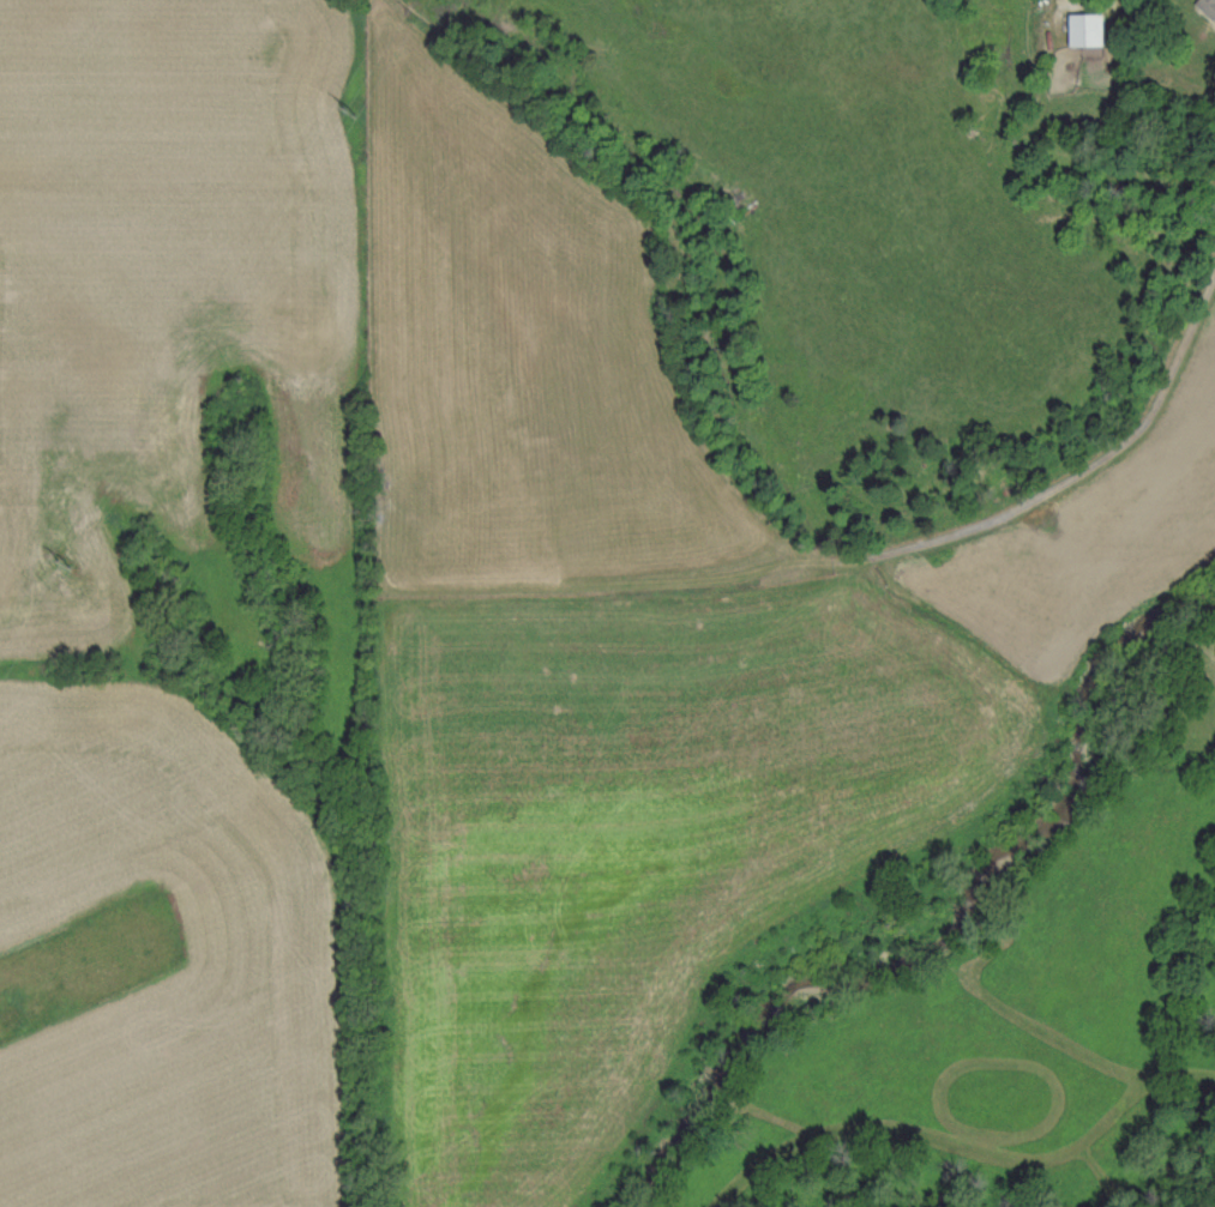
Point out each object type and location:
building: (1205, 8)
building: (1076, 28)
power tower: (356, 101)
power tower: (70, 561)

